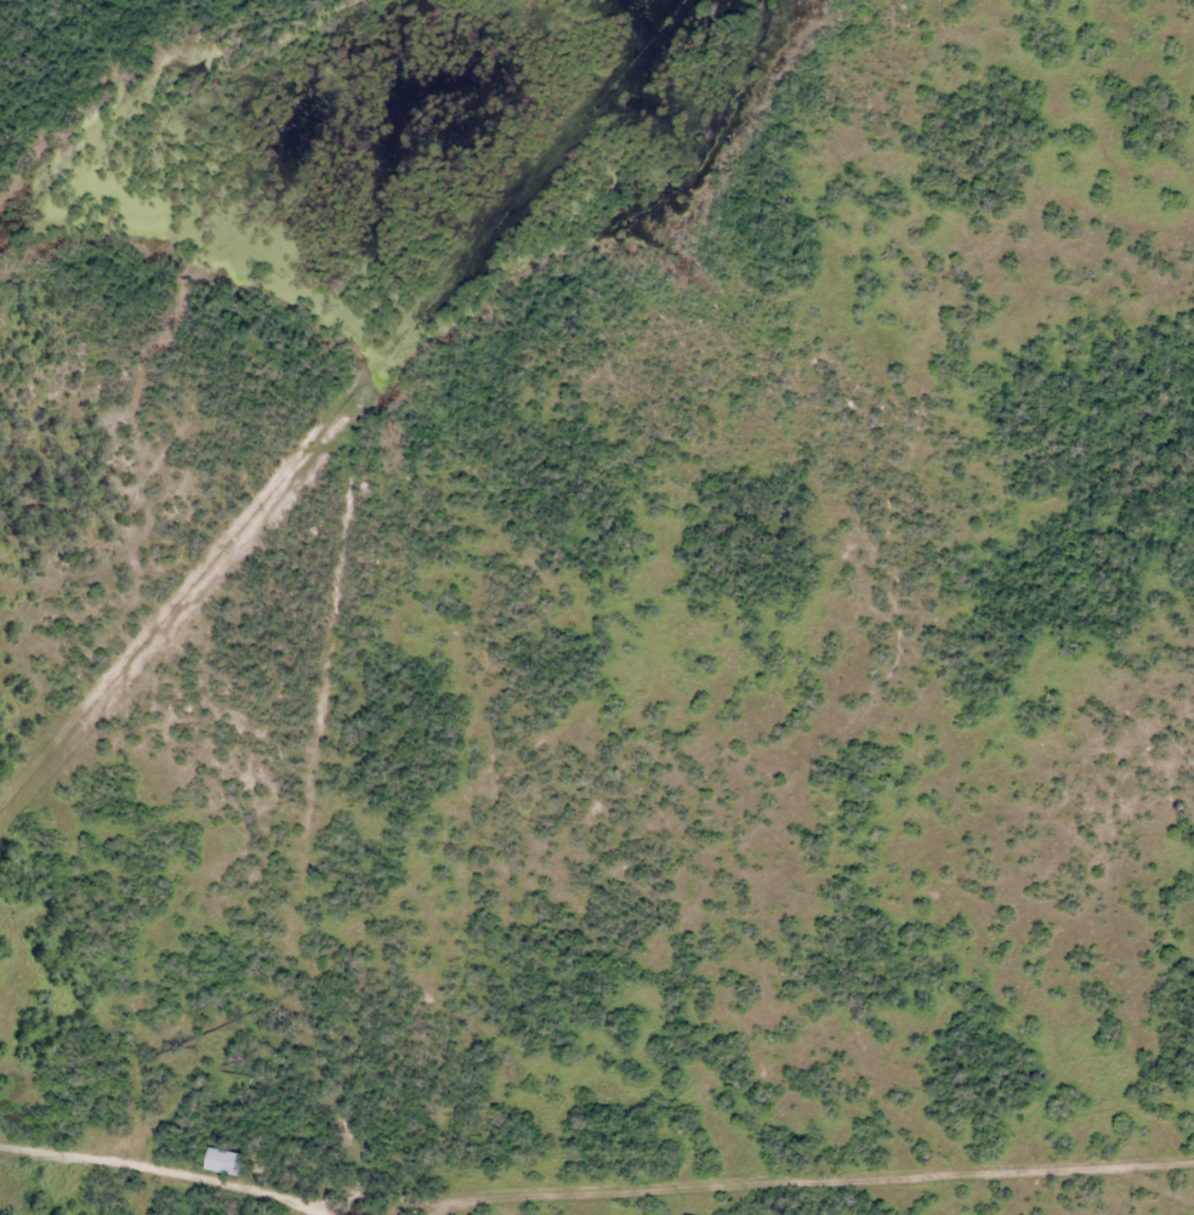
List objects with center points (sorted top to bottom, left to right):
building: (224, 1165)

